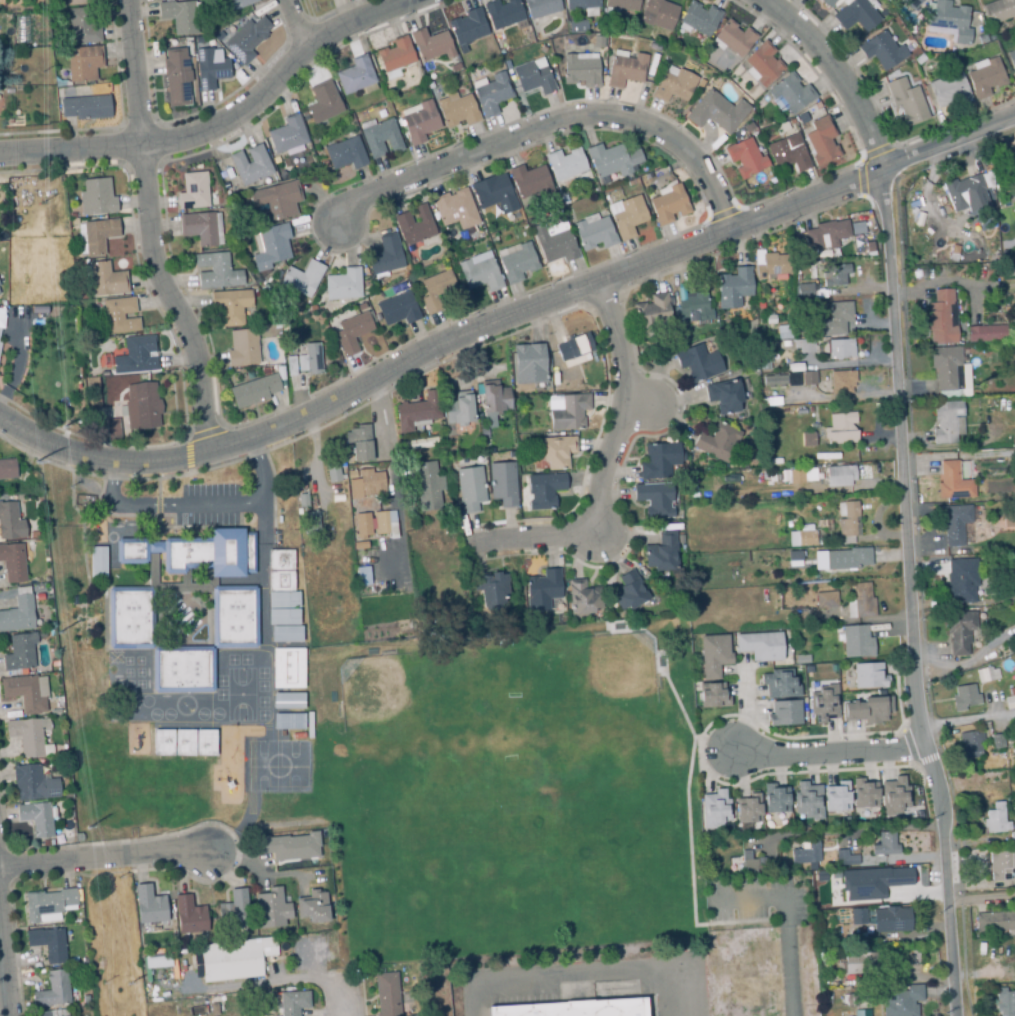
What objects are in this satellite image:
building: (78, 1)
building: (313, 1)
building: (827, 3)
building: (911, 3)
building: (234, 4)
building: (581, 4)
building: (621, 4)
building: (540, 8)
building: (997, 11)
building: (502, 13)
building: (658, 14)
building: (856, 14)
building: (179, 15)
building: (699, 18)
building: (950, 20)
road: (296, 24)
building: (579, 25)
building: (467, 26)
building: (81, 27)
building: (218, 36)
building: (734, 37)
building: (982, 38)
building: (246, 39)
building: (599, 43)
building: (431, 44)
building: (882, 49)
building: (394, 54)
building: (1012, 58)
building: (83, 63)
building: (763, 64)
building: (210, 68)
building: (580, 68)
building: (625, 70)
power tower: (7, 72)
power tower: (41, 72)
building: (356, 75)
building: (533, 76)
building: (984, 77)
building: (178, 79)
building: (673, 84)
building: (60, 85)
building: (948, 89)
building: (493, 93)
building: (790, 93)
building: (906, 101)
building: (322, 102)
building: (85, 107)
building: (456, 111)
building: (716, 111)
building: (802, 117)
building: (418, 121)
road: (223, 123)
road: (547, 127)
building: (784, 127)
building: (287, 134)
building: (380, 138)
building: (821, 141)
building: (789, 152)
building: (346, 153)
building: (745, 157)
building: (614, 162)
building: (250, 164)
building: (566, 166)
building: (1010, 168)
building: (282, 174)
building: (531, 183)
building: (192, 189)
building: (493, 192)
building: (966, 192)
building: (98, 198)
building: (277, 199)
power tower: (43, 201)
building: (669, 204)
building: (455, 207)
building: (627, 216)
building: (74, 220)
building: (414, 224)
building: (200, 228)
power tower: (11, 230)
road: (148, 231)
building: (596, 234)
building: (826, 234)
building: (100, 236)
building: (796, 236)
building: (556, 243)
building: (271, 247)
building: (945, 247)
building: (953, 249)
building: (384, 254)
building: (518, 264)
building: (770, 264)
building: (215, 270)
building: (480, 273)
building: (836, 275)
building: (301, 280)
building: (108, 281)
building: (343, 284)
building: (733, 287)
building: (803, 291)
building: (435, 292)
building: (0, 293)
building: (229, 307)
building: (693, 308)
building: (399, 312)
building: (1010, 312)
building: (120, 316)
building: (651, 316)
road: (507, 318)
building: (769, 318)
building: (834, 318)
building: (941, 318)
building: (0, 323)
building: (352, 331)
building: (784, 331)
building: (986, 333)
building: (1, 336)
building: (785, 343)
building: (804, 345)
building: (242, 347)
building: (841, 348)
building: (574, 349)
power tower: (55, 355)
building: (137, 357)
building: (764, 357)
building: (313, 359)
building: (698, 362)
building: (529, 363)
building: (795, 367)
building: (949, 371)
building: (800, 378)
building: (773, 379)
building: (842, 381)
building: (821, 388)
building: (254, 391)
building: (724, 395)
building: (493, 402)
building: (772, 402)
building: (141, 405)
building: (459, 408)
building: (417, 410)
building: (567, 411)
building: (947, 422)
road: (384, 423)
building: (813, 425)
building: (841, 428)
building: (113, 430)
building: (808, 438)
building: (717, 441)
building: (359, 442)
building: (1013, 442)
building: (419, 443)
building: (491, 450)
building: (557, 451)
building: (659, 460)
power tower: (32, 461)
road: (606, 463)
building: (7, 468)
building: (810, 473)
building: (334, 474)
building: (351, 474)
building: (781, 475)
building: (839, 475)
building: (796, 476)
building: (371, 481)
building: (952, 481)
building: (502, 483)
building: (427, 485)
road: (903, 486)
building: (469, 488)
building: (544, 489)
building: (654, 498)
building: (303, 502)
road: (196, 505)
parking lot: (208, 505)
building: (830, 519)
building: (10, 521)
building: (848, 521)
building: (820, 522)
building: (954, 522)
building: (385, 523)
building: (362, 524)
building: (311, 525)
building: (831, 526)
building: (802, 536)
building: (679, 538)
building: (826, 539)
building: (661, 553)
building: (794, 558)
building: (841, 558)
building: (281, 559)
building: (12, 562)
building: (98, 562)
building: (363, 575)
building: (281, 580)
building: (960, 581)
building: (188, 587)
building: (48, 589)
building: (489, 589)
building: (542, 589)
building: (628, 591)
building: (38, 596)
building: (582, 597)
building: (284, 599)
building: (825, 599)
building: (860, 601)
building: (18, 614)
building: (284, 616)
building: (959, 630)
power tower: (58, 632)
building: (287, 633)
building: (41, 634)
building: (52, 634)
building: (856, 641)
building: (760, 645)
building: (19, 651)
building: (52, 654)
building: (713, 655)
building: (802, 658)
building: (55, 665)
building: (288, 667)
building: (183, 669)
building: (808, 669)
building: (986, 674)
building: (869, 675)
building: (780, 683)
building: (26, 691)
building: (880, 692)
building: (712, 695)
building: (964, 696)
building: (1010, 698)
building: (289, 700)
building: (823, 703)
building: (867, 709)
building: (784, 712)
building: (289, 721)
road: (968, 724)
building: (26, 735)
building: (299, 737)
building: (998, 740)
building: (164, 742)
building: (185, 742)
building: (206, 742)
building: (970, 744)
road: (829, 753)
building: (32, 782)
park: (136, 782)
park: (512, 790)
building: (864, 793)
building: (836, 796)
building: (893, 796)
building: (775, 797)
building: (807, 800)
building: (714, 808)
building: (748, 809)
building: (1013, 814)
building: (36, 818)
building: (995, 818)
power tower: (88, 827)
road: (851, 829)
building: (67, 830)
building: (78, 836)
building: (1012, 837)
building: (885, 844)
building: (289, 847)
building: (806, 853)
building: (845, 857)
road: (104, 858)
building: (748, 861)
building: (1001, 864)
power tower: (118, 876)
building: (872, 881)
road: (766, 897)
road: (981, 899)
parking lot: (759, 900)
building: (47, 903)
building: (149, 904)
building: (312, 906)
building: (271, 908)
building: (233, 909)
building: (189, 915)
building: (857, 916)
building: (891, 919)
building: (994, 920)
building: (48, 943)
building: (234, 958)
building: (913, 958)
building: (157, 961)
building: (861, 965)
road: (790, 971)
road: (578, 978)
parking lot: (599, 980)
power tower: (100, 981)
road: (2, 984)
power tower: (127, 984)
road: (256, 985)
building: (53, 990)
building: (387, 994)
road: (348, 999)
building: (848, 999)
building: (901, 1000)
building: (1004, 1001)
building: (293, 1002)
building: (582, 1003)
building: (213, 1008)
building: (56, 1012)
building: (861, 1012)

